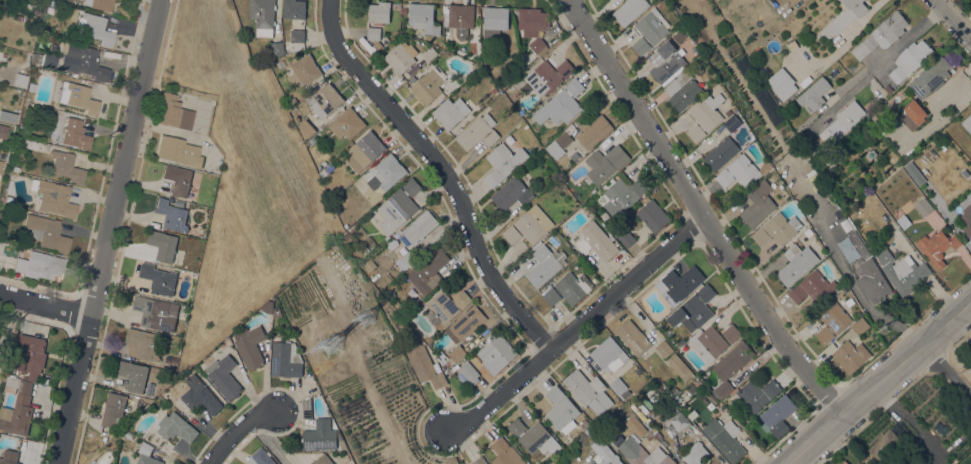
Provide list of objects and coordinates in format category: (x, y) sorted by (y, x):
building: (119, 0)
building: (98, 4)
building: (294, 8)
building: (629, 10)
building: (845, 16)
building: (264, 17)
building: (377, 18)
building: (423, 18)
building: (461, 18)
building: (495, 20)
road: (952, 21)
building: (534, 26)
building: (651, 26)
building: (94, 28)
building: (881, 34)
building: (297, 35)
building: (377, 45)
building: (641, 45)
building: (792, 45)
building: (276, 48)
building: (429, 53)
building: (401, 56)
building: (910, 59)
building: (47, 60)
building: (81, 60)
building: (665, 61)
road: (879, 61)
building: (304, 70)
building: (547, 76)
building: (930, 77)
building: (20, 80)
building: (782, 83)
building: (427, 87)
building: (888, 88)
building: (682, 90)
building: (814, 93)
building: (77, 97)
building: (292, 100)
building: (325, 100)
building: (561, 104)
building: (292, 110)
building: (172, 112)
building: (450, 112)
building: (728, 112)
building: (912, 114)
building: (8, 116)
building: (705, 116)
building: (846, 118)
building: (731, 122)
building: (967, 123)
building: (347, 124)
building: (306, 128)
building: (572, 130)
building: (2, 131)
building: (593, 131)
building: (478, 132)
building: (74, 134)
building: (312, 139)
building: (559, 144)
building: (44, 146)
building: (367, 148)
building: (178, 151)
building: (721, 153)
building: (833, 153)
building: (504, 161)
building: (605, 163)
building: (65, 166)
building: (765, 167)
building: (14, 168)
building: (388, 171)
building: (738, 171)
road: (442, 173)
building: (177, 179)
building: (511, 193)
building: (623, 194)
building: (52, 197)
building: (874, 202)
building: (757, 206)
building: (398, 207)
building: (869, 207)
building: (923, 207)
road: (699, 211)
building: (171, 214)
building: (652, 215)
building: (967, 219)
building: (903, 221)
building: (533, 223)
building: (882, 224)
building: (419, 226)
building: (777, 229)
building: (888, 230)
road: (107, 231)
building: (46, 232)
building: (511, 234)
building: (626, 238)
building: (596, 241)
building: (163, 244)
building: (858, 244)
building: (937, 246)
building: (408, 257)
building: (796, 263)
building: (38, 265)
building: (370, 265)
building: (542, 265)
building: (428, 270)
building: (901, 271)
building: (158, 278)
building: (872, 280)
building: (682, 282)
building: (812, 287)
building: (568, 289)
road: (44, 304)
building: (266, 306)
building: (445, 306)
building: (693, 309)
building: (156, 312)
building: (276, 313)
power tower: (368, 318)
building: (831, 321)
building: (466, 322)
building: (859, 325)
power tower: (883, 328)
road: (576, 329)
building: (732, 333)
building: (633, 337)
power tower: (332, 342)
building: (708, 342)
building: (142, 343)
building: (249, 346)
building: (663, 348)
building: (457, 353)
building: (496, 353)
building: (30, 355)
building: (851, 355)
building: (970, 356)
building: (285, 359)
building: (733, 360)
building: (612, 361)
building: (425, 365)
building: (679, 366)
road: (946, 372)
building: (470, 373)
building: (134, 375)
building: (223, 376)
road: (879, 381)
building: (308, 383)
building: (723, 389)
building: (674, 390)
building: (588, 391)
building: (733, 391)
building: (757, 393)
building: (555, 394)
building: (200, 395)
building: (677, 400)
building: (18, 406)
building: (113, 408)
building: (306, 408)
building: (562, 413)
building: (776, 416)
building: (673, 418)
building: (645, 420)
building: (175, 426)
building: (589, 430)
road: (239, 432)
building: (320, 435)
building: (648, 435)
building: (534, 437)
building: (725, 439)
building: (885, 442)
road: (270, 443)
building: (342, 445)
building: (145, 447)
building: (640, 452)
building: (505, 453)
building: (604, 453)
building: (694, 453)
building: (9, 457)
building: (260, 457)
building: (341, 458)
building: (147, 460)
building: (323, 460)
building: (479, 460)
building: (555, 461)
building: (843, 462)
road: (790, 463)

